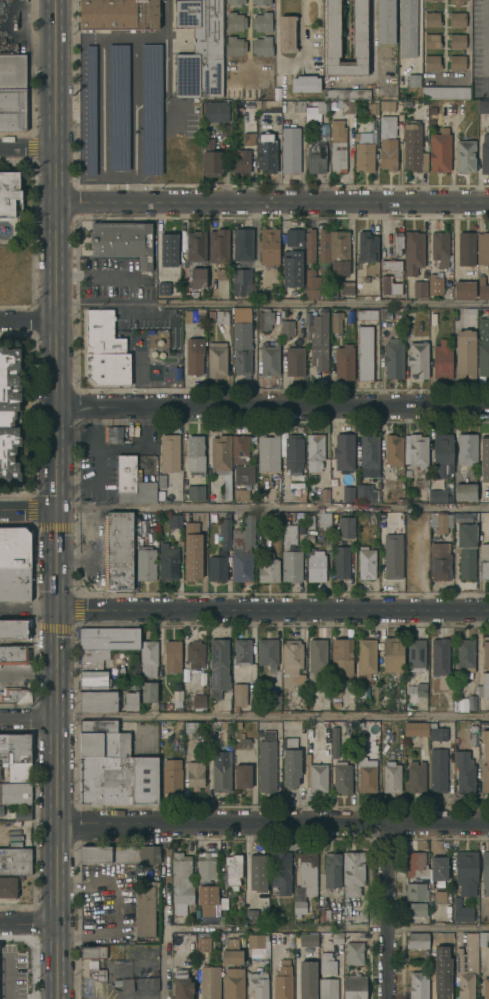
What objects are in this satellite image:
building: (430, 1)
building: (260, 2)
building: (457, 2)
building: (234, 3)
building: (118, 14)
building: (432, 18)
building: (457, 18)
building: (385, 21)
building: (234, 22)
building: (262, 22)
building: (332, 28)
building: (407, 28)
road: (162, 33)
building: (287, 33)
road: (419, 38)
road: (117, 39)
building: (432, 40)
building: (457, 40)
building: (233, 46)
building: (262, 46)
building: (200, 48)
road: (276, 57)
road: (372, 58)
road: (467, 59)
building: (432, 61)
building: (457, 61)
building: (413, 81)
building: (305, 82)
building: (13, 91)
building: (246, 91)
building: (262, 91)
building: (446, 91)
building: (252, 92)
building: (327, 93)
building: (351, 93)
building: (408, 102)
building: (287, 104)
building: (387, 104)
building: (268, 105)
building: (299, 105)
building: (374, 106)
building: (483, 106)
building: (319, 107)
building: (334, 108)
building: (347, 108)
building: (216, 110)
building: (387, 126)
building: (225, 128)
building: (248, 140)
building: (339, 144)
building: (412, 145)
building: (484, 148)
road: (26, 149)
building: (291, 149)
building: (316, 150)
building: (266, 151)
building: (440, 151)
building: (388, 153)
building: (364, 154)
building: (466, 155)
building: (211, 157)
building: (241, 163)
building: (9, 192)
road: (271, 201)
building: (183, 229)
road: (454, 235)
building: (121, 240)
building: (243, 243)
building: (398, 243)
building: (323, 244)
building: (219, 245)
building: (269, 245)
building: (310, 245)
building: (196, 246)
building: (367, 246)
building: (483, 247)
building: (441, 248)
building: (467, 248)
building: (168, 249)
building: (339, 251)
building: (414, 251)
road: (54, 253)
building: (488, 268)
building: (292, 269)
building: (222, 272)
road: (114, 274)
building: (391, 275)
building: (198, 276)
building: (243, 281)
building: (317, 282)
building: (435, 284)
building: (347, 286)
building: (483, 287)
building: (420, 288)
building: (464, 288)
building: (161, 290)
building: (334, 290)
road: (324, 304)
building: (471, 310)
building: (200, 311)
building: (385, 312)
building: (212, 313)
building: (367, 314)
building: (222, 316)
building: (185, 317)
building: (350, 317)
building: (265, 318)
building: (336, 319)
road: (26, 322)
building: (172, 328)
building: (287, 328)
building: (319, 339)
building: (242, 340)
building: (136, 341)
building: (483, 345)
building: (105, 349)
building: (365, 352)
building: (466, 353)
building: (193, 356)
building: (393, 357)
building: (216, 358)
building: (270, 358)
building: (442, 358)
building: (295, 360)
building: (418, 360)
building: (344, 361)
road: (271, 406)
building: (9, 411)
road: (73, 430)
building: (112, 434)
building: (127, 434)
road: (138, 446)
building: (240, 448)
building: (467, 448)
building: (416, 449)
building: (394, 450)
building: (169, 451)
building: (315, 451)
building: (268, 452)
building: (344, 452)
building: (195, 453)
building: (294, 453)
building: (443, 453)
building: (370, 455)
building: (222, 458)
building: (484, 458)
road: (93, 464)
building: (407, 472)
building: (201, 476)
building: (133, 481)
building: (161, 481)
building: (334, 481)
building: (298, 482)
building: (243, 483)
building: (466, 490)
building: (196, 492)
building: (348, 492)
building: (366, 492)
building: (323, 494)
building: (438, 494)
building: (299, 495)
building: (399, 499)
road: (27, 508)
traffic signals: (55, 508)
road: (272, 508)
building: (283, 514)
building: (383, 516)
building: (488, 516)
building: (324, 518)
building: (373, 518)
building: (175, 519)
building: (440, 521)
building: (346, 526)
building: (248, 530)
building: (289, 536)
building: (310, 537)
building: (134, 543)
building: (14, 547)
building: (393, 547)
building: (466, 549)
building: (118, 550)
building: (221, 551)
road: (54, 560)
building: (440, 560)
building: (484, 560)
building: (168, 561)
building: (146, 562)
building: (342, 562)
building: (367, 562)
building: (316, 564)
building: (192, 565)
building: (241, 565)
building: (292, 565)
building: (268, 567)
building: (15, 583)
building: (396, 585)
road: (27, 609)
road: (271, 610)
traffic signals: (54, 612)
building: (20, 623)
building: (12, 629)
building: (109, 637)
road: (54, 641)
building: (242, 651)
building: (268, 652)
building: (486, 652)
building: (394, 653)
building: (416, 653)
building: (13, 654)
building: (173, 655)
building: (317, 655)
building: (440, 655)
building: (466, 655)
building: (148, 657)
building: (366, 657)
building: (195, 658)
building: (342, 658)
building: (292, 663)
building: (219, 666)
building: (93, 669)
road: (27, 674)
building: (431, 683)
building: (485, 683)
building: (336, 688)
building: (149, 691)
building: (421, 691)
building: (16, 694)
building: (240, 694)
building: (177, 697)
building: (131, 699)
building: (100, 700)
building: (275, 700)
building: (199, 701)
building: (472, 702)
building: (168, 706)
building: (461, 706)
building: (236, 707)
road: (270, 718)
road: (26, 721)
building: (237, 724)
building: (98, 725)
building: (190, 727)
building: (416, 728)
building: (473, 729)
building: (259, 732)
building: (437, 732)
building: (269, 734)
building: (242, 741)
building: (334, 741)
building: (291, 742)
building: (104, 744)
building: (185, 744)
building: (309, 745)
building: (15, 748)
building: (487, 761)
building: (267, 765)
building: (291, 766)
building: (439, 769)
building: (19, 771)
building: (465, 771)
building: (0, 772)
building: (195, 774)
building: (367, 774)
building: (172, 775)
building: (243, 775)
building: (316, 775)
building: (391, 776)
building: (416, 776)
building: (221, 777)
building: (342, 777)
building: (106, 780)
building: (146, 780)
building: (15, 793)
building: (1, 810)
building: (18, 814)
road: (271, 826)
road: (54, 834)
road: (12, 838)
building: (120, 853)
building: (15, 861)
building: (417, 862)
building: (438, 867)
building: (207, 868)
building: (233, 869)
building: (331, 869)
building: (307, 870)
building: (281, 871)
building: (467, 871)
building: (257, 872)
building: (353, 872)
building: (485, 872)
building: (181, 882)
building: (8, 886)
building: (416, 890)
building: (431, 895)
building: (440, 896)
building: (207, 898)
building: (223, 902)
building: (299, 903)
building: (418, 908)
building: (144, 910)
building: (461, 911)
road: (164, 912)
road: (382, 912)
building: (250, 916)
building: (324, 916)
road: (27, 926)
road: (327, 930)
building: (337, 936)
building: (350, 937)
building: (484, 938)
building: (418, 939)
building: (308, 940)
building: (203, 941)
building: (231, 941)
building: (259, 942)
building: (93, 951)
building: (353, 954)
building: (231, 956)
building: (327, 962)
building: (466, 966)
building: (96, 970)
building: (441, 972)
building: (15, 979)
building: (283, 980)
building: (307, 980)
building: (210, 982)
building: (124, 983)
building: (234, 983)
building: (182, 984)
building: (259, 984)
building: (419, 985)
building: (354, 986)
building: (486, 987)
building: (328, 988)

